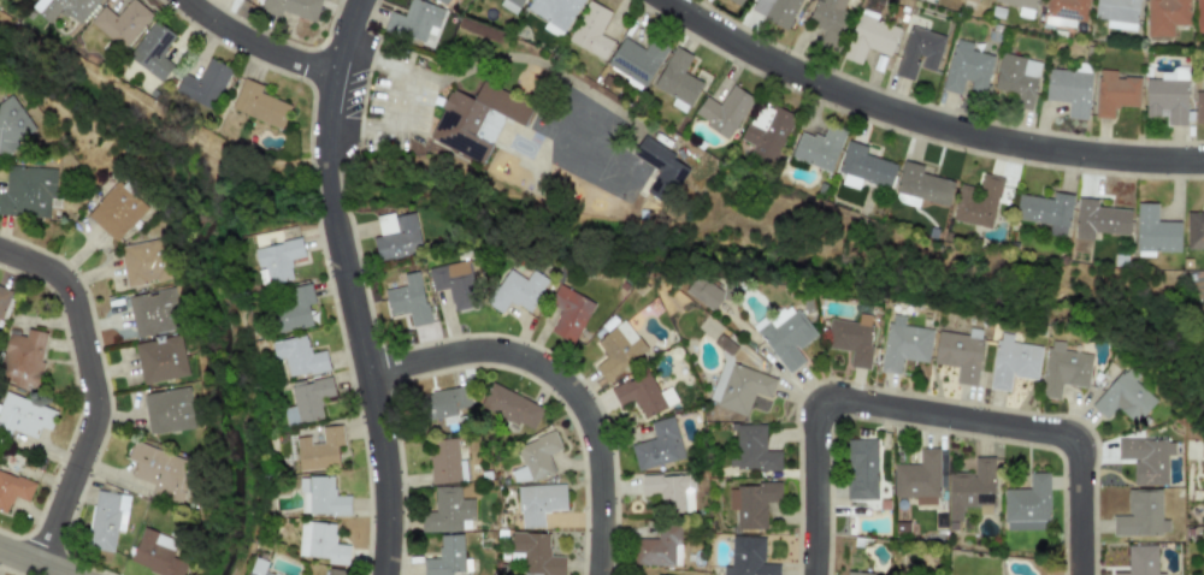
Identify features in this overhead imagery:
building: (444, 1)
building: (736, 1)
building: (969, 1)
building: (510, 5)
building: (1021, 6)
building: (290, 7)
building: (63, 8)
building: (775, 10)
building: (1066, 11)
building: (554, 13)
building: (1116, 13)
building: (1164, 16)
building: (1199, 16)
building: (827, 20)
building: (415, 22)
building: (120, 23)
building: (590, 30)
building: (869, 38)
road: (258, 43)
building: (152, 51)
building: (917, 52)
building: (636, 60)
building: (966, 67)
building: (1016, 78)
building: (677, 79)
building: (203, 84)
building: (1068, 90)
building: (1114, 93)
building: (1165, 96)
road: (399, 101)
building: (259, 105)
building: (1198, 106)
building: (722, 111)
road: (158, 118)
building: (474, 120)
road: (922, 123)
building: (12, 125)
building: (766, 132)
building: (816, 148)
building: (863, 167)
building: (660, 170)
building: (920, 186)
building: (26, 191)
building: (978, 203)
building: (116, 212)
building: (1045, 212)
building: (1098, 219)
road: (785, 227)
building: (1194, 230)
building: (1153, 231)
building: (396, 235)
building: (276, 261)
building: (142, 262)
building: (455, 284)
road: (352, 285)
building: (517, 291)
building: (702, 294)
building: (2, 297)
building: (407, 300)
building: (293, 310)
building: (152, 313)
building: (568, 313)
building: (785, 336)
building: (850, 338)
building: (903, 344)
building: (616, 350)
building: (958, 354)
building: (299, 356)
building: (20, 358)
building: (159, 360)
building: (1013, 362)
building: (1062, 369)
road: (562, 384)
building: (737, 385)
road: (98, 386)
building: (642, 395)
building: (1123, 397)
building: (307, 401)
building: (444, 403)
building: (510, 407)
building: (167, 411)
road: (928, 413)
building: (23, 416)
building: (657, 445)
building: (318, 450)
building: (751, 450)
building: (533, 457)
building: (1145, 458)
building: (444, 461)
building: (861, 469)
building: (160, 472)
building: (1203, 473)
building: (917, 479)
building: (12, 490)
building: (669, 491)
building: (969, 491)
building: (320, 497)
building: (537, 503)
building: (751, 503)
building: (1027, 504)
building: (445, 510)
building: (1140, 515)
building: (105, 520)
building: (320, 543)
building: (657, 546)
building: (535, 553)
building: (159, 555)
building: (444, 557)
building: (748, 558)
road: (35, 559)
building: (1140, 561)
building: (1203, 564)
building: (256, 567)
building: (335, 571)
building: (856, 573)

